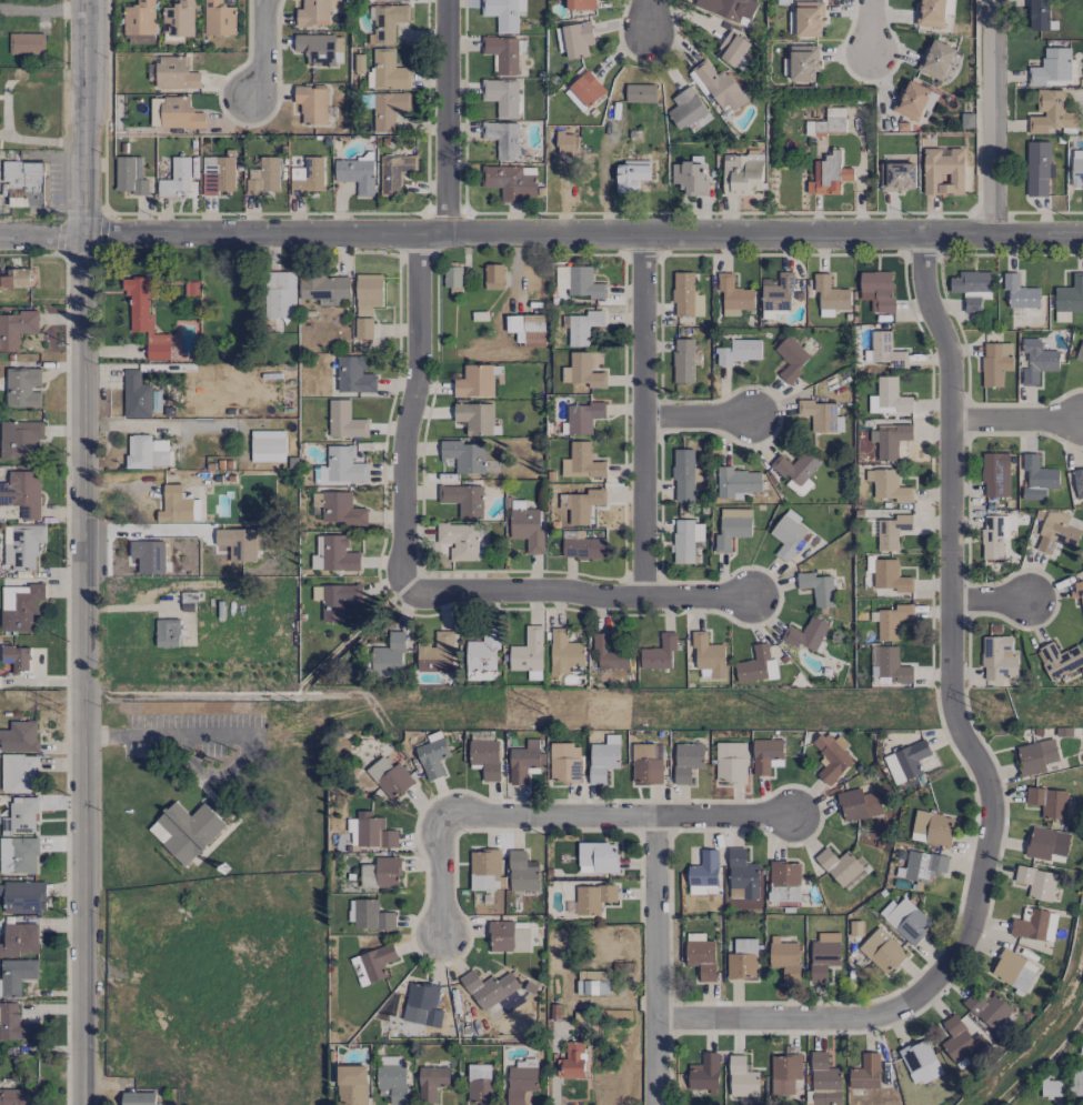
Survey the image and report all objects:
building: (391, 0)
building: (580, 4)
road: (42, 7)
building: (728, 9)
building: (314, 12)
building: (503, 13)
building: (931, 13)
building: (1040, 16)
road: (648, 17)
building: (139, 18)
building: (219, 18)
building: (179, 19)
building: (806, 19)
building: (387, 22)
road: (870, 28)
building: (142, 39)
building: (560, 39)
building: (578, 39)
building: (26, 43)
building: (315, 48)
building: (338, 48)
building: (733, 50)
road: (263, 52)
building: (501, 52)
building: (935, 59)
building: (801, 63)
building: (1051, 67)
building: (389, 71)
building: (176, 73)
building: (719, 86)
building: (584, 91)
building: (640, 93)
building: (501, 97)
building: (914, 100)
building: (311, 104)
building: (388, 109)
building: (688, 110)
building: (1050, 112)
building: (180, 113)
road: (445, 115)
road: (993, 118)
building: (828, 122)
building: (502, 139)
road: (41, 140)
building: (565, 144)
building: (1037, 168)
building: (1076, 168)
building: (943, 171)
building: (394, 172)
building: (742, 172)
building: (218, 174)
building: (357, 174)
building: (631, 174)
building: (829, 174)
building: (263, 175)
building: (308, 175)
building: (129, 177)
building: (896, 177)
building: (176, 178)
building: (689, 178)
building: (511, 181)
building: (23, 182)
road: (541, 232)
building: (452, 277)
building: (493, 277)
building: (16, 278)
building: (579, 281)
building: (323, 288)
building: (972, 288)
building: (878, 290)
building: (776, 292)
building: (1020, 292)
building: (368, 293)
building: (830, 293)
building: (281, 294)
building: (733, 294)
building: (685, 295)
building: (1070, 295)
building: (144, 318)
building: (583, 327)
building: (363, 328)
building: (16, 329)
building: (527, 329)
building: (886, 350)
building: (739, 351)
building: (1080, 352)
building: (791, 358)
building: (683, 360)
building: (1036, 361)
building: (995, 363)
building: (582, 371)
building: (353, 375)
building: (22, 386)
building: (136, 395)
building: (889, 398)
road: (412, 412)
road: (643, 415)
building: (821, 415)
building: (583, 416)
building: (474, 418)
road: (699, 419)
road: (1017, 420)
building: (344, 421)
building: (20, 440)
building: (890, 440)
building: (267, 445)
building: (865, 446)
building: (146, 451)
building: (464, 455)
building: (582, 462)
building: (795, 466)
building: (340, 468)
building: (995, 474)
building: (685, 475)
building: (1037, 478)
building: (736, 482)
building: (1077, 484)
building: (890, 486)
building: (22, 493)
building: (462, 500)
building: (581, 504)
building: (174, 505)
building: (340, 509)
building: (525, 525)
building: (732, 528)
building: (892, 531)
building: (1057, 531)
building: (993, 533)
building: (786, 534)
building: (459, 539)
building: (685, 540)
building: (582, 545)
building: (23, 546)
road: (81, 552)
building: (333, 554)
building: (890, 576)
building: (816, 587)
building: (1079, 591)
road: (579, 596)
building: (338, 600)
road: (991, 602)
building: (19, 606)
road: (951, 616)
building: (892, 621)
building: (167, 632)
building: (805, 633)
building: (483, 651)
building: (528, 651)
building: (564, 652)
building: (659, 652)
building: (437, 653)
building: (609, 653)
building: (378, 655)
building: (709, 655)
building: (17, 657)
building: (997, 659)
building: (1059, 660)
building: (756, 665)
building: (892, 666)
building: (480, 675)
road: (160, 734)
building: (19, 736)
building: (432, 755)
building: (766, 755)
building: (831, 756)
building: (1035, 756)
building: (485, 757)
building: (603, 759)
building: (523, 761)
building: (686, 761)
building: (906, 761)
building: (731, 762)
building: (564, 763)
building: (646, 764)
building: (19, 772)
building: (389, 777)
building: (1047, 802)
building: (858, 804)
building: (20, 816)
road: (618, 817)
building: (932, 827)
building: (185, 831)
building: (352, 831)
building: (373, 831)
building: (1046, 844)
building: (18, 855)
building: (596, 856)
building: (924, 864)
building: (840, 866)
building: (484, 870)
building: (704, 870)
building: (521, 873)
building: (381, 874)
building: (742, 875)
road: (441, 880)
building: (784, 881)
building: (1036, 882)
building: (23, 897)
building: (590, 898)
building: (369, 915)
building: (905, 920)
building: (1034, 924)
building: (508, 936)
building: (20, 940)
building: (882, 951)
building: (701, 955)
building: (824, 955)
building: (784, 958)
building: (742, 960)
road: (655, 961)
building: (377, 962)
building: (1013, 971)
building: (16, 975)
building: (592, 982)
building: (488, 988)
building: (421, 1005)
building: (987, 1008)
building: (622, 1015)
road: (799, 1021)
building: (14, 1024)
building: (961, 1042)
building: (572, 1059)
building: (920, 1062)
building: (865, 1072)
building: (704, 1073)
building: (784, 1075)
building: (392, 1077)
building: (741, 1077)
building: (1077, 1077)
building: (824, 1081)
building: (432, 1082)
building: (479, 1084)
building: (520, 1084)
building: (352, 1085)
building: (1050, 1088)
building: (17, 1096)
building: (139, 1098)

